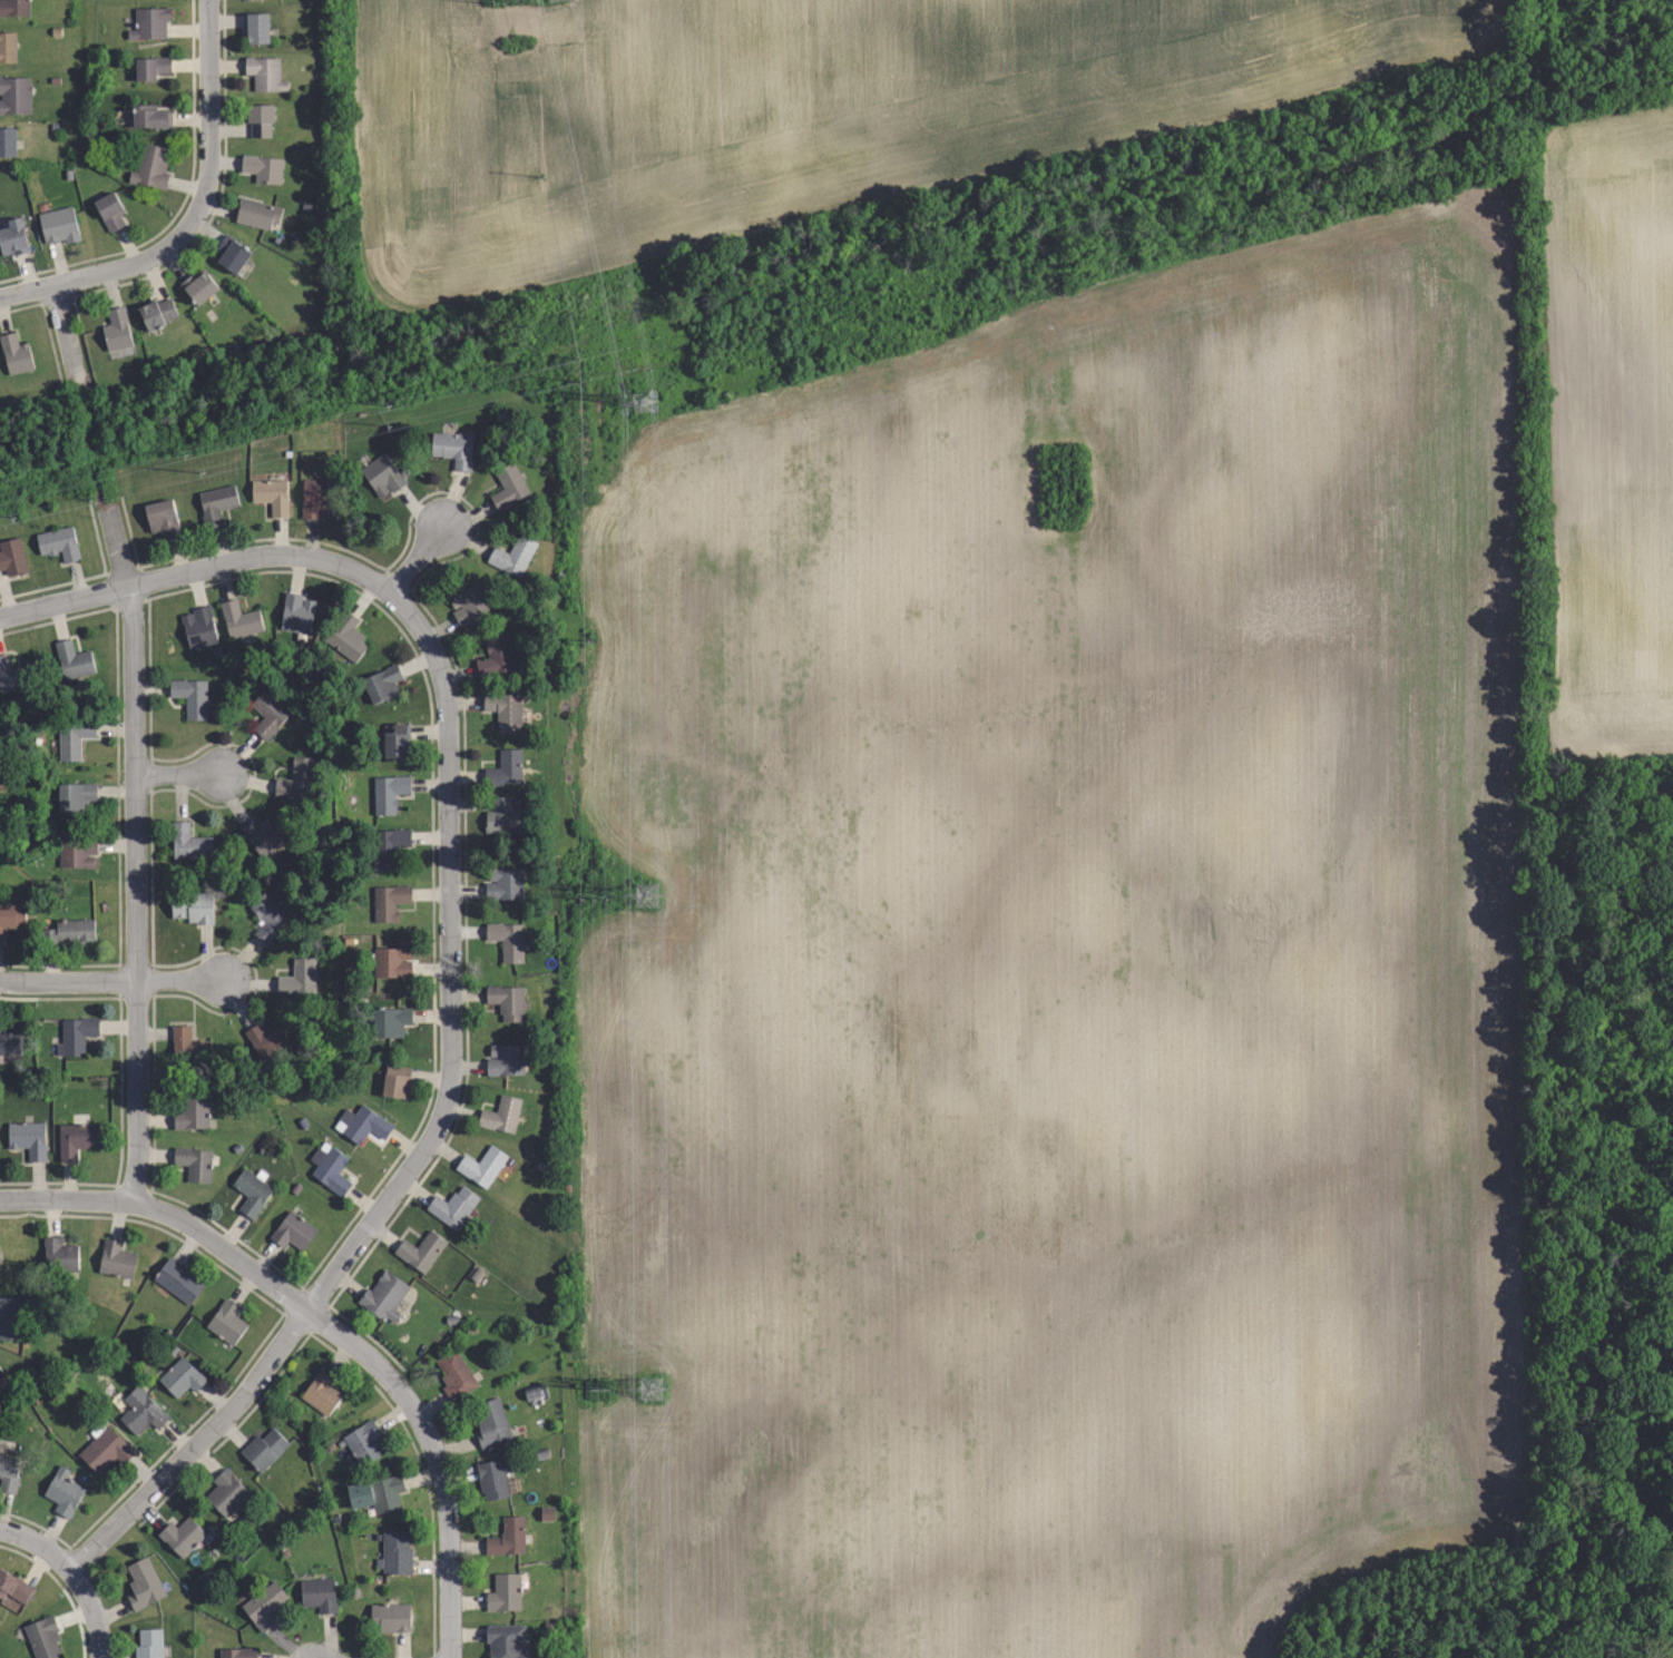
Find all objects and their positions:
building: (14, 8)
building: (150, 23)
building: (256, 28)
building: (9, 48)
building: (154, 68)
building: (265, 73)
building: (16, 96)
building: (151, 118)
building: (260, 121)
road: (208, 129)
building: (8, 141)
building: (153, 166)
building: (262, 168)
building: (110, 212)
building: (260, 216)
building: (60, 226)
building: (13, 239)
building: (231, 253)
road: (86, 277)
building: (200, 287)
building: (157, 313)
building: (116, 331)
road: (65, 336)
building: (16, 352)
power tower: (639, 405)
building: (452, 449)
building: (381, 474)
building: (509, 487)
building: (272, 492)
building: (317, 498)
building: (217, 501)
building: (162, 516)
building: (58, 543)
building: (512, 555)
building: (11, 558)
road: (418, 558)
road: (87, 593)
building: (469, 604)
road: (23, 608)
building: (296, 612)
building: (238, 619)
building: (199, 627)
building: (346, 637)
building: (495, 657)
building: (71, 659)
building: (13, 675)
building: (382, 684)
building: (190, 696)
building: (505, 710)
building: (267, 714)
building: (72, 737)
building: (397, 740)
building: (506, 767)
road: (178, 771)
building: (296, 777)
building: (388, 794)
building: (77, 797)
building: (503, 816)
building: (263, 835)
building: (189, 842)
building: (389, 845)
building: (76, 852)
road: (135, 854)
building: (503, 883)
power tower: (656, 890)
building: (388, 901)
building: (194, 904)
building: (268, 915)
building: (11, 918)
building: (68, 930)
building: (507, 940)
building: (392, 962)
building: (297, 978)
road: (67, 980)
road: (178, 980)
road: (450, 1001)
building: (508, 1001)
building: (392, 1022)
building: (76, 1032)
building: (267, 1037)
building: (10, 1041)
building: (188, 1042)
building: (506, 1060)
building: (397, 1082)
building: (194, 1109)
building: (502, 1115)
building: (363, 1125)
building: (76, 1138)
building: (29, 1140)
building: (195, 1160)
building: (330, 1166)
building: (482, 1166)
building: (253, 1189)
road: (65, 1198)
building: (453, 1205)
building: (293, 1229)
building: (420, 1250)
building: (59, 1254)
building: (116, 1256)
building: (178, 1278)
building: (385, 1294)
building: (12, 1319)
building: (227, 1319)
road: (381, 1370)
building: (0, 1373)
building: (453, 1373)
building: (180, 1376)
power tower: (667, 1377)
building: (322, 1391)
building: (139, 1410)
building: (490, 1422)
building: (362, 1441)
building: (104, 1449)
building: (263, 1449)
building: (8, 1473)
building: (491, 1479)
building: (62, 1490)
building: (227, 1492)
building: (376, 1493)
building: (182, 1533)
building: (507, 1537)
road: (38, 1542)
building: (394, 1552)
building: (12, 1586)
building: (144, 1586)
building: (317, 1593)
building: (505, 1596)
building: (264, 1603)
road: (92, 1611)
building: (389, 1617)
building: (43, 1638)
building: (508, 1640)
building: (149, 1644)
building: (238, 1652)

